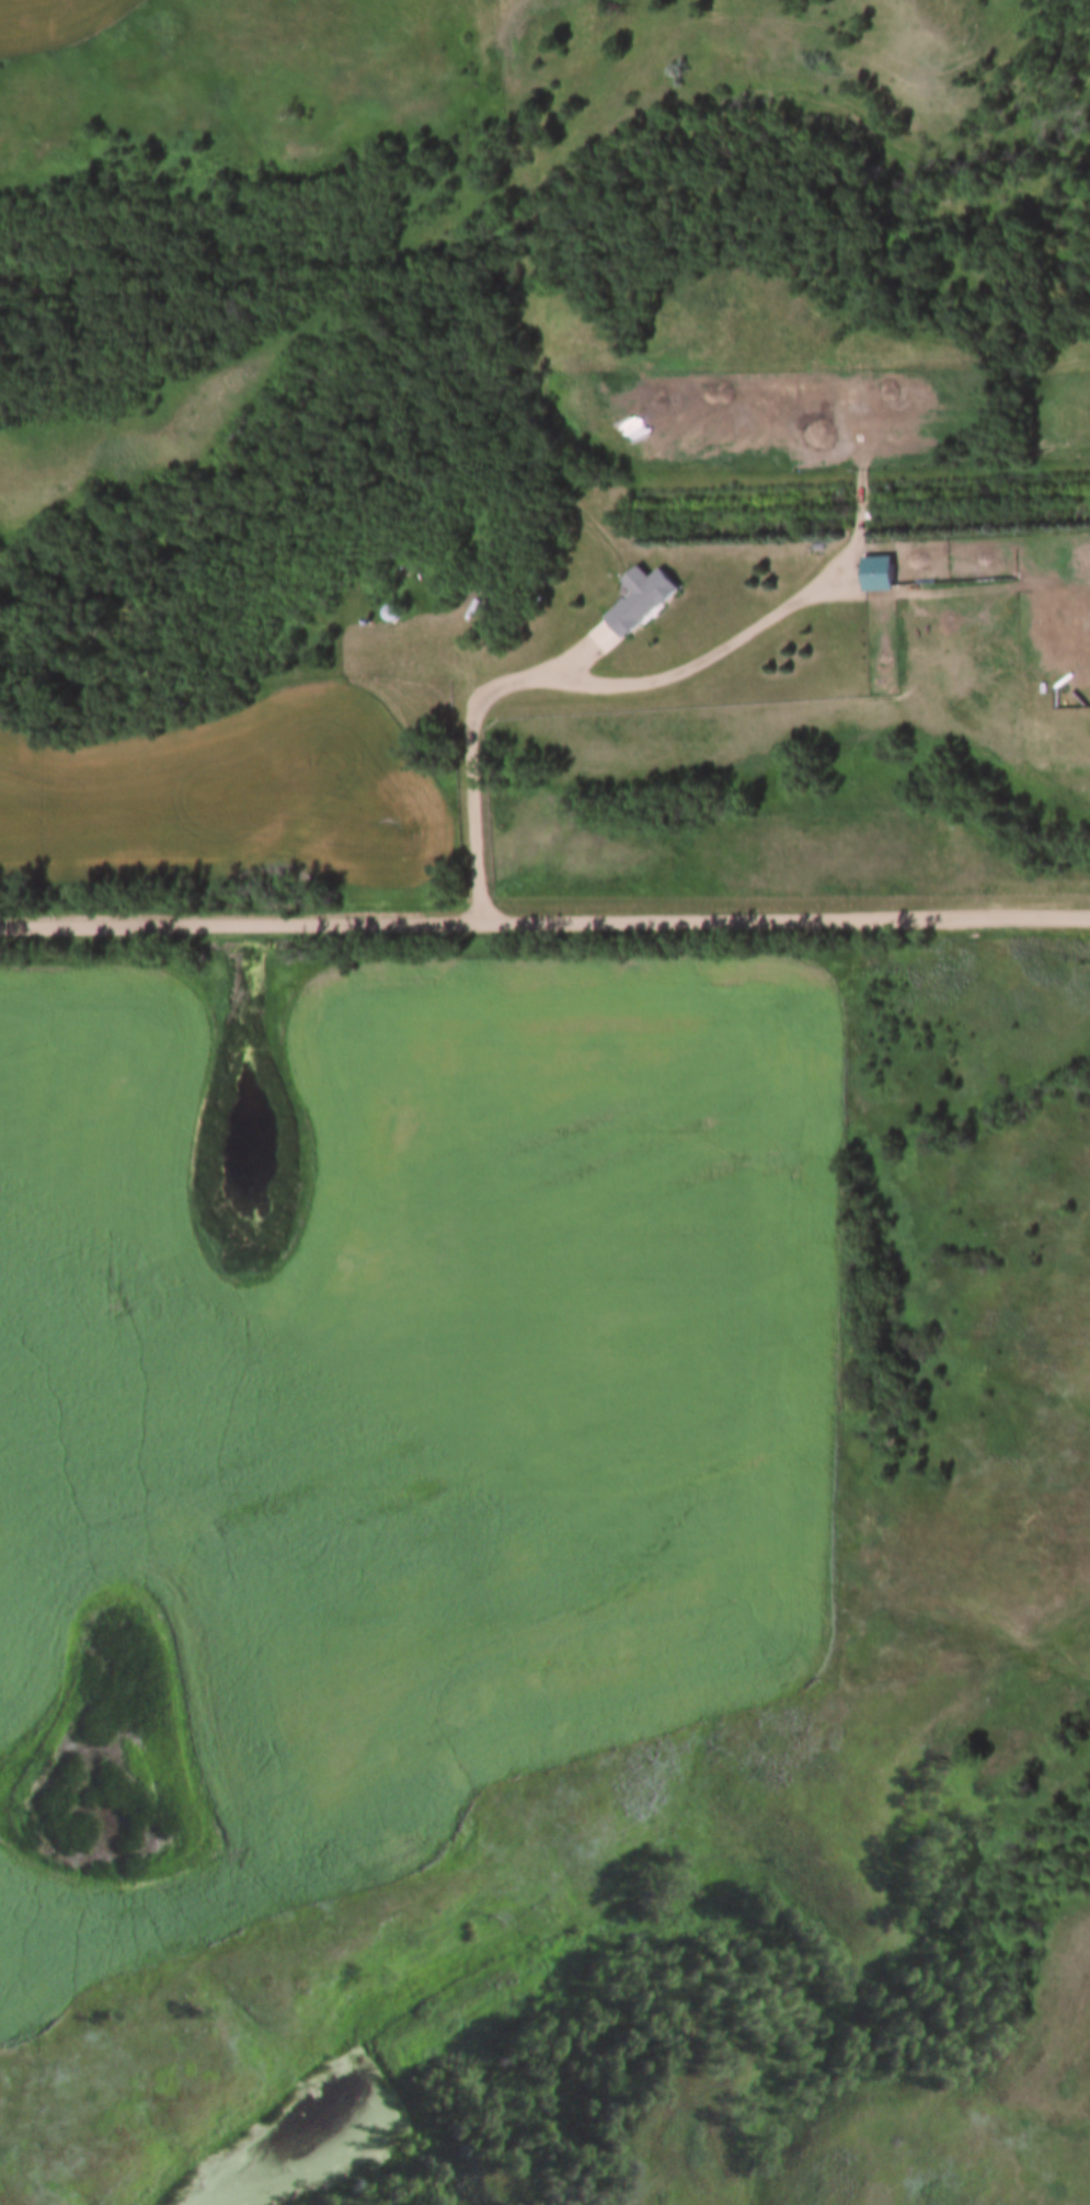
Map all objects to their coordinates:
building: (885, 573)
building: (652, 602)
building: (398, 612)
road: (544, 923)

